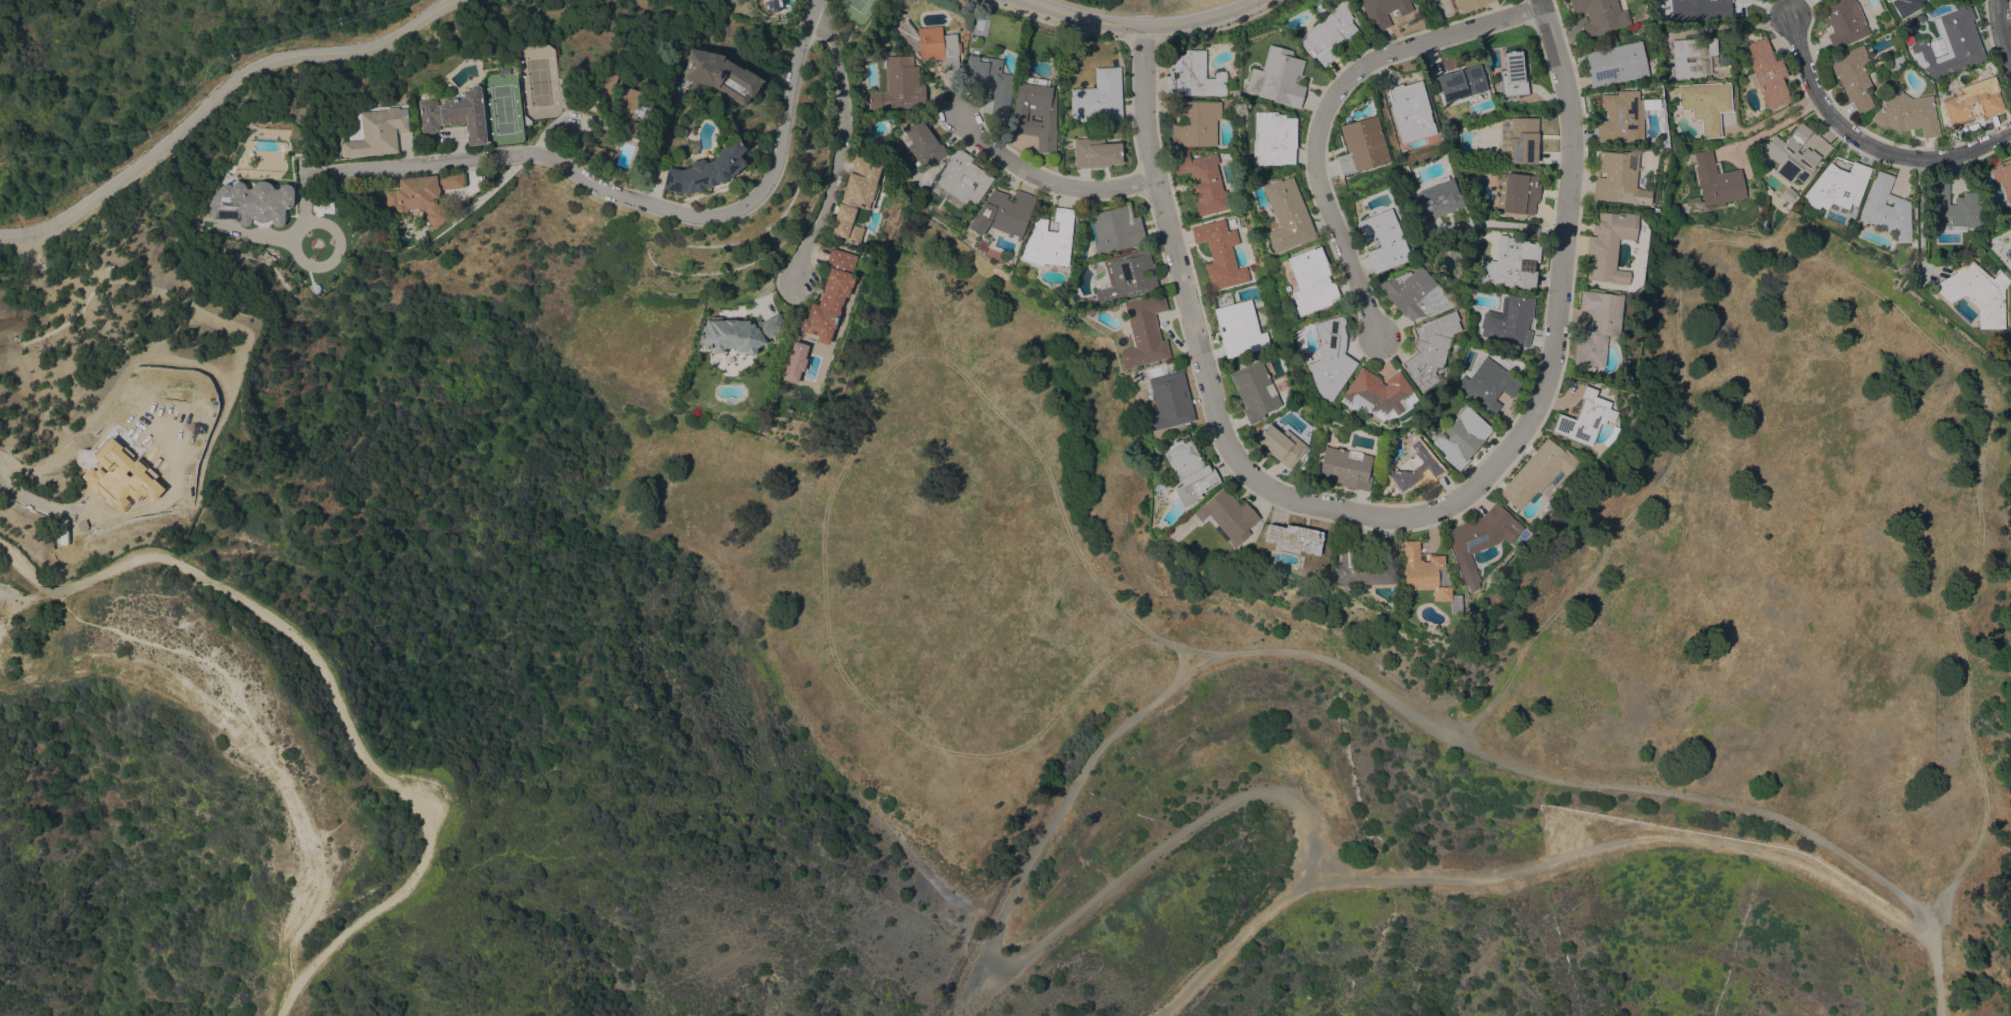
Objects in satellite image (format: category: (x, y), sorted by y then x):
building: (1884, 0)
building: (1887, 0)
building: (1469, 4)
building: (772, 5)
building: (1906, 6)
building: (1699, 9)
building: (1383, 11)
building: (1599, 16)
building: (1844, 22)
road: (1136, 25)
road: (2001, 29)
building: (1329, 33)
building: (932, 43)
building: (1951, 44)
building: (1692, 56)
building: (1616, 63)
building: (1894, 63)
building: (504, 70)
building: (1767, 73)
building: (722, 74)
building: (1192, 75)
building: (1513, 75)
building: (1853, 76)
building: (1278, 77)
building: (990, 82)
building: (1461, 83)
building: (899, 85)
road: (215, 96)
building: (1099, 97)
building: (614, 102)
building: (1972, 102)
building: (1706, 104)
road: (1328, 105)
building: (1411, 111)
building: (1907, 113)
building: (457, 114)
building: (1036, 114)
building: (1621, 117)
building: (527, 120)
building: (1196, 123)
road: (1770, 127)
building: (378, 132)
building: (1273, 138)
building: (1523, 140)
building: (922, 143)
road: (1868, 144)
building: (1362, 145)
road: (843, 146)
building: (1503, 148)
building: (593, 150)
building: (1096, 152)
building: (1792, 155)
building: (707, 169)
building: (2003, 177)
building: (1618, 178)
building: (961, 180)
building: (1717, 180)
building: (1203, 181)
road: (1043, 182)
building: (1838, 185)
building: (1517, 193)
building: (423, 194)
building: (1787, 195)
road: (629, 197)
building: (1439, 198)
building: (857, 199)
building: (252, 202)
building: (1954, 205)
building: (1887, 208)
building: (1004, 213)
building: (1287, 215)
road: (1918, 225)
road: (1497, 226)
building: (1117, 229)
building: (1050, 239)
building: (1383, 240)
building: (1608, 245)
building: (1220, 254)
building: (1511, 263)
road: (308, 264)
building: (1128, 276)
road: (1854, 279)
building: (1311, 280)
building: (1977, 292)
building: (1414, 293)
building: (831, 295)
building: (1508, 321)
building: (1597, 326)
building: (1240, 329)
building: (1144, 332)
building: (740, 333)
building: (1429, 348)
building: (1330, 357)
building: (1624, 372)
building: (1486, 385)
building: (1255, 390)
building: (1377, 394)
building: (1170, 400)
building: (1583, 418)
building: (1460, 437)
building: (1281, 444)
building: (1413, 467)
building: (1344, 468)
building: (1189, 471)
building: (1536, 473)
road: (32, 501)
building: (1227, 515)
road: (1385, 516)
building: (1295, 538)
building: (1478, 539)
building: (1366, 564)
building: (1427, 575)
road: (1193, 666)
road: (336, 695)
road: (254, 727)
road: (1569, 856)

